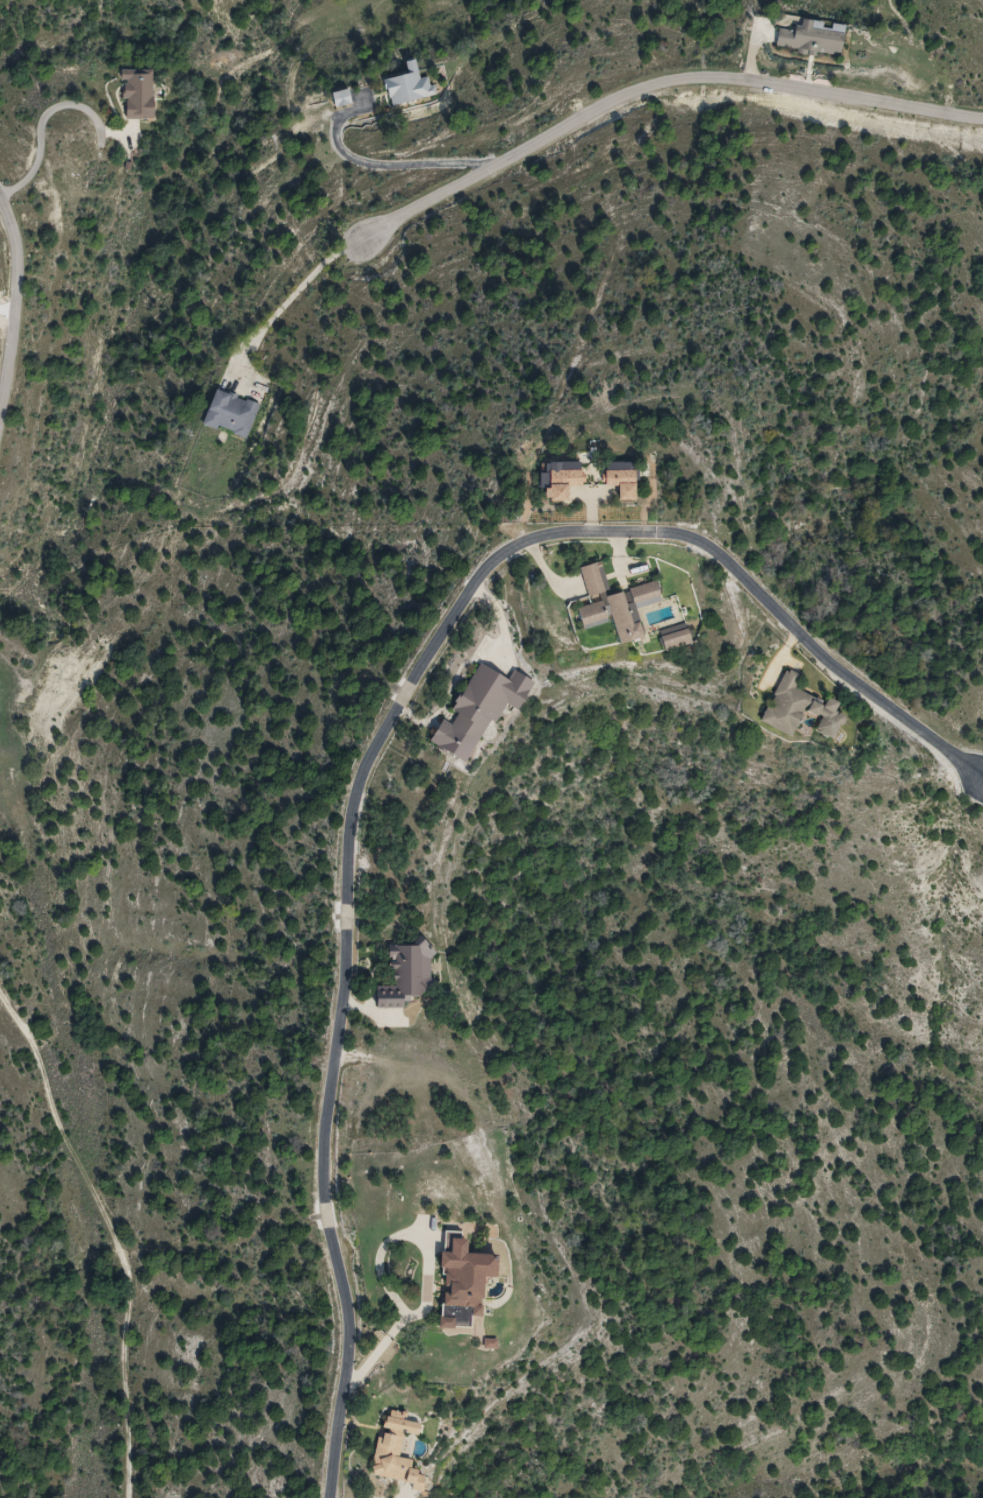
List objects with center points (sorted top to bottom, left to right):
building: (813, 39)
building: (409, 87)
road: (641, 94)
building: (141, 95)
building: (342, 99)
road: (41, 129)
road: (406, 164)
road: (11, 310)
road: (275, 313)
building: (231, 414)
building: (595, 579)
building: (621, 611)
building: (677, 637)
building: (801, 708)
building: (481, 710)
road: (393, 736)
building: (407, 975)
road: (431, 1270)
building: (464, 1282)
building: (398, 1451)
road: (411, 1497)

